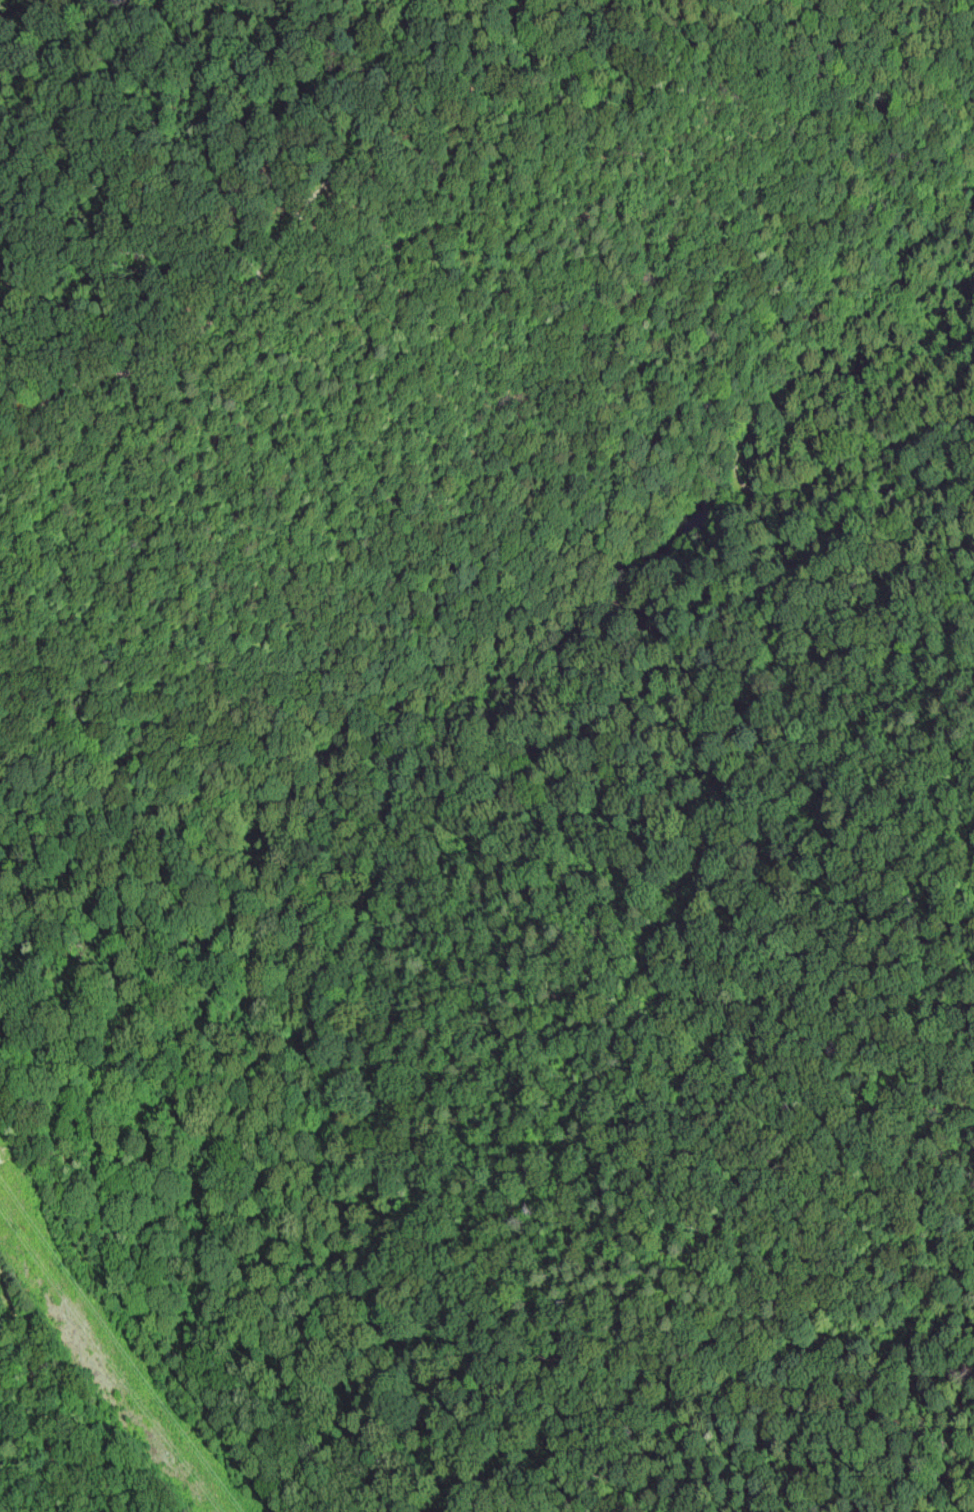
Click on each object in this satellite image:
road: (753, 424)

